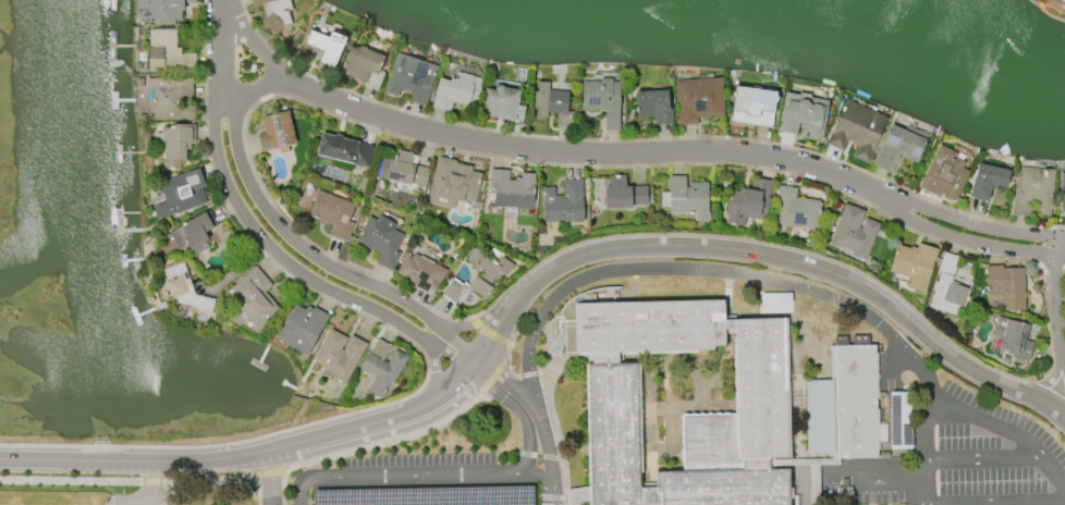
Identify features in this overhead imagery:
building: (1057, 2)
building: (166, 10)
building: (273, 13)
road: (220, 30)
road: (253, 42)
building: (325, 47)
building: (167, 52)
building: (363, 66)
building: (409, 78)
road: (256, 85)
building: (455, 91)
building: (170, 98)
building: (697, 99)
building: (601, 100)
building: (551, 101)
building: (500, 102)
building: (651, 107)
building: (750, 107)
building: (801, 114)
building: (856, 130)
building: (274, 132)
building: (175, 144)
building: (898, 147)
building: (342, 150)
road: (588, 150)
building: (405, 170)
building: (943, 174)
building: (986, 181)
building: (452, 183)
building: (511, 190)
building: (1032, 192)
building: (179, 194)
building: (622, 194)
building: (687, 198)
building: (748, 202)
building: (563, 204)
building: (1062, 205)
building: (796, 209)
building: (332, 214)
road: (976, 220)
building: (194, 232)
building: (854, 233)
road: (971, 236)
building: (380, 241)
road: (302, 247)
road: (284, 257)
building: (914, 264)
road: (791, 272)
building: (420, 273)
building: (477, 278)
road: (786, 281)
road: (528, 285)
building: (1006, 286)
building: (183, 288)
building: (947, 288)
building: (256, 298)
road: (1055, 303)
road: (477, 324)
building: (301, 329)
road: (489, 334)
building: (1012, 338)
building: (339, 355)
road: (424, 355)
road: (507, 364)
building: (381, 368)
road: (437, 371)
road: (528, 373)
road: (492, 379)
building: (760, 386)
building: (844, 403)
road: (518, 411)
building: (901, 418)
road: (537, 419)
road: (554, 433)
road: (369, 446)
road: (926, 446)
parking lot: (954, 448)
road: (502, 454)
road: (537, 456)
road: (982, 457)
road: (558, 458)
road: (498, 468)
road: (285, 470)
road: (267, 473)
road: (151, 475)
road: (413, 475)
road: (70, 477)
road: (247, 477)
road: (272, 477)
road: (152, 478)
road: (221, 478)
road: (876, 479)
parking lot: (418, 482)
road: (140, 496)
building: (428, 496)
road: (550, 497)
parking lot: (138, 498)
road: (418, 500)
road: (995, 500)

